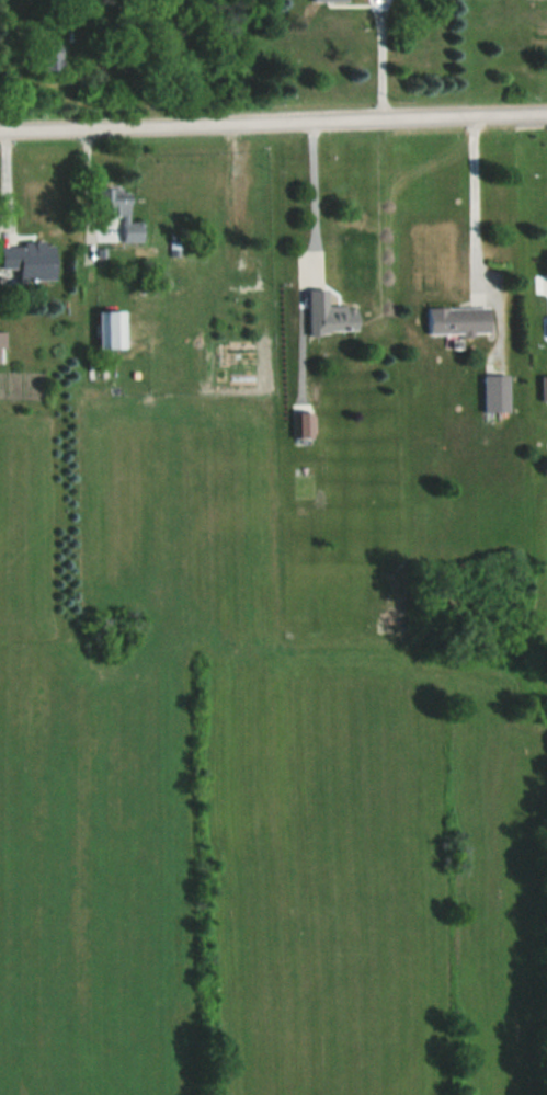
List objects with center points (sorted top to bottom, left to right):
building: (50, 58)
road: (383, 60)
road: (273, 124)
road: (312, 181)
road: (474, 199)
building: (118, 201)
building: (114, 230)
building: (27, 255)
building: (330, 313)
building: (459, 320)
building: (2, 346)
building: (495, 392)

